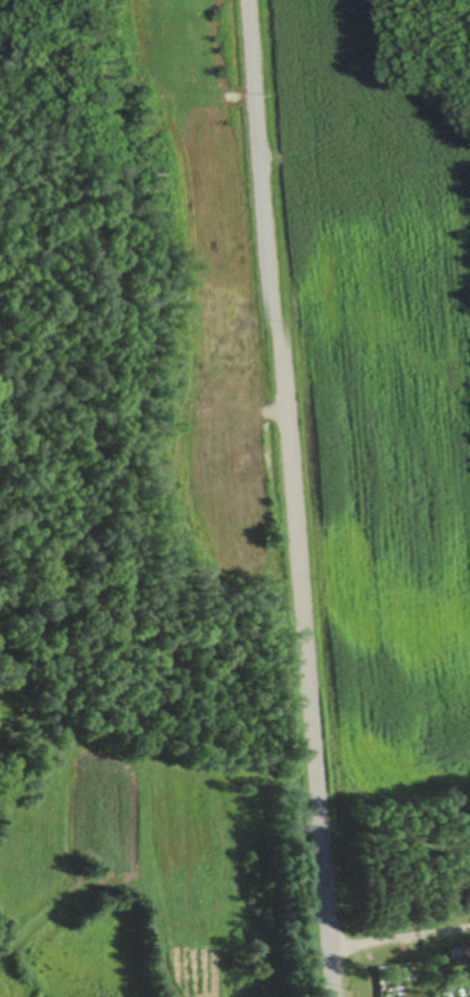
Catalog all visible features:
road: (291, 498)
road: (398, 932)
building: (459, 949)
building: (277, 994)

